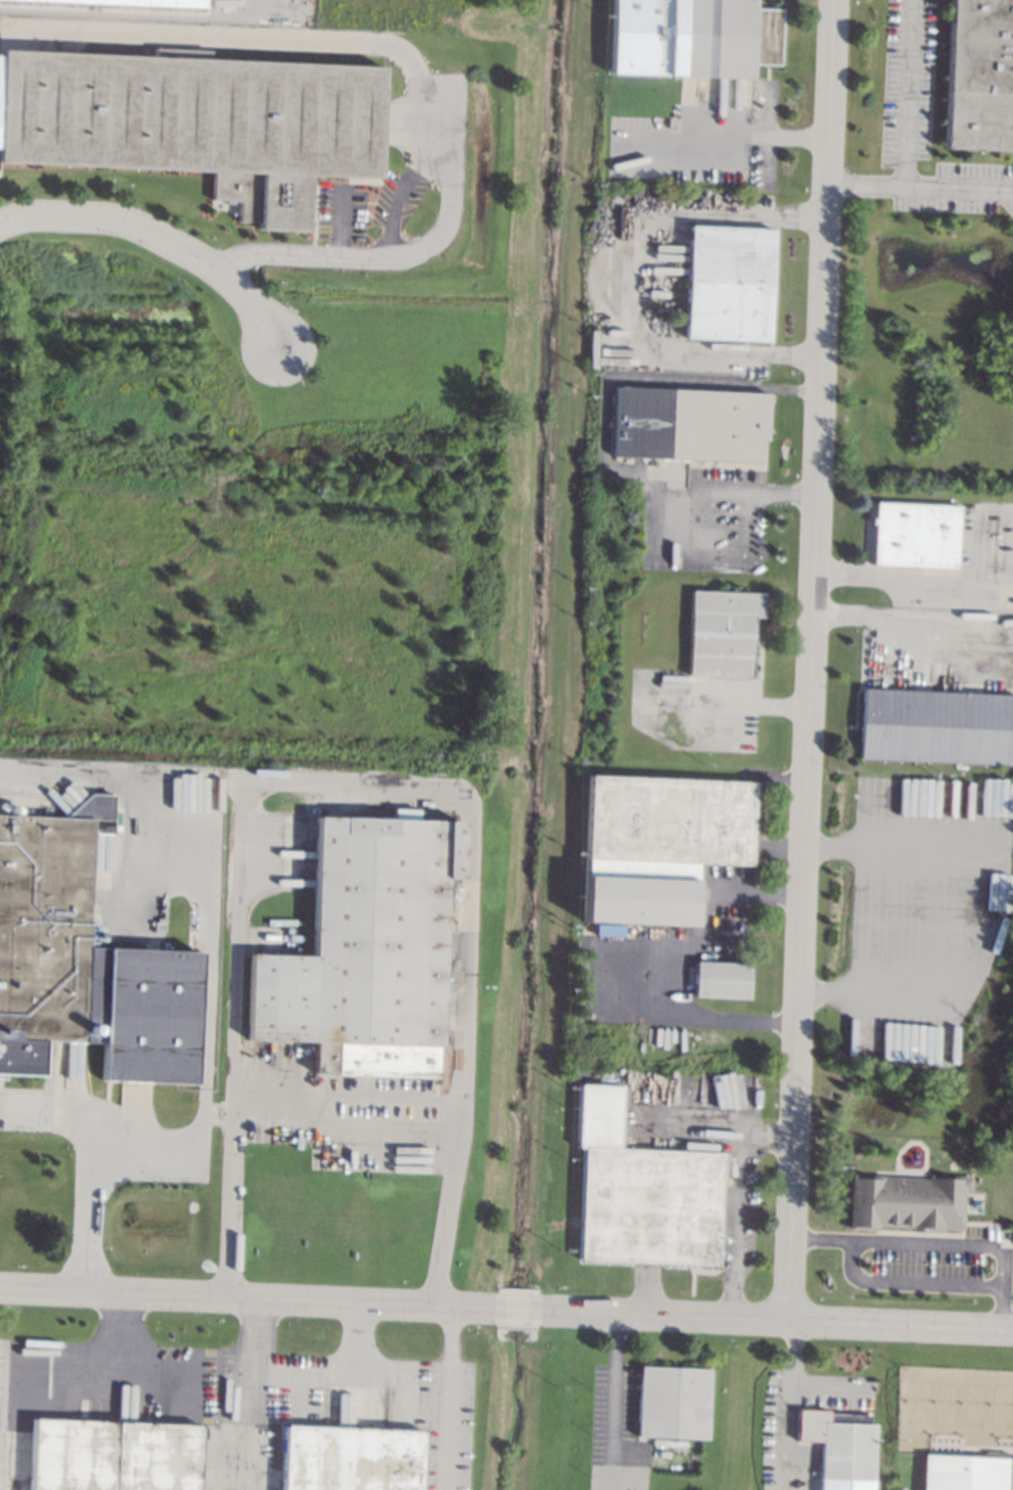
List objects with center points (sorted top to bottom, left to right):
building: (140, 3)
building: (726, 37)
road: (410, 61)
building: (979, 75)
building: (198, 121)
road: (906, 133)
road: (754, 136)
road: (958, 191)
road: (804, 219)
road: (159, 241)
building: (726, 283)
road: (634, 301)
road: (610, 376)
road: (783, 390)
building: (714, 425)
railway: (1, 484)
road: (728, 496)
building: (913, 534)
road: (917, 581)
road: (912, 621)
building: (720, 632)
road: (809, 659)
road: (737, 707)
building: (936, 726)
railway: (32, 794)
road: (470, 817)
building: (658, 842)
building: (43, 924)
road: (974, 934)
building: (365, 949)
road: (658, 961)
building: (721, 979)
road: (230, 1037)
road: (341, 1122)
road: (88, 1160)
building: (641, 1192)
road: (737, 1201)
building: (907, 1201)
road: (931, 1244)
road: (506, 1308)
road: (123, 1331)
road: (355, 1337)
road: (251, 1360)
road: (127, 1369)
road: (354, 1371)
road: (827, 1385)
road: (792, 1390)
road: (443, 1394)
building: (672, 1402)
building: (847, 1446)
building: (112, 1455)
building: (350, 1459)
building: (966, 1472)

